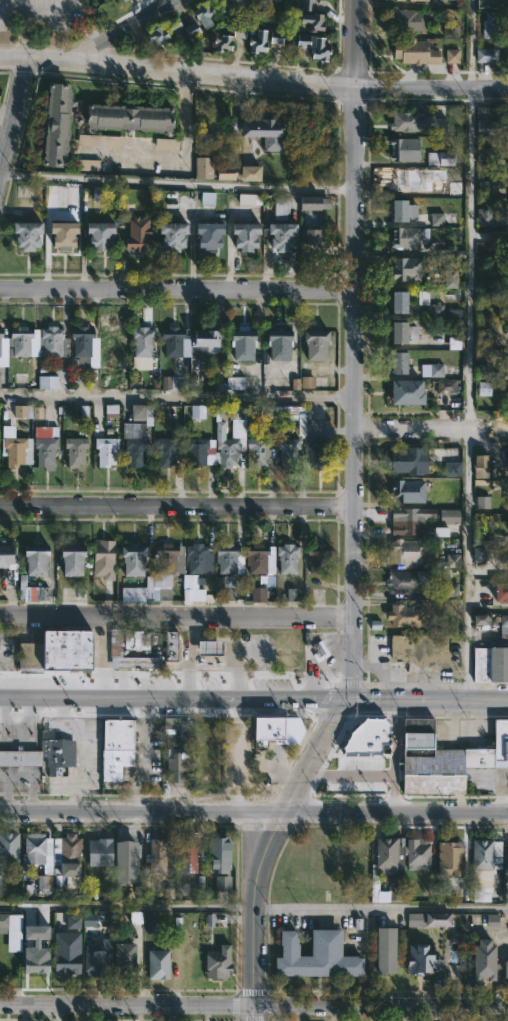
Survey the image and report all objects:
building: (121, 0)
building: (410, 0)
building: (265, 2)
building: (459, 3)
building: (227, 8)
road: (11, 15)
parking lot: (38, 15)
building: (308, 15)
road: (51, 16)
building: (196, 20)
building: (410, 20)
park: (40, 21)
building: (488, 24)
road: (129, 29)
building: (452, 29)
building: (161, 32)
road: (23, 35)
building: (276, 37)
building: (251, 38)
building: (222, 42)
road: (354, 42)
building: (312, 46)
building: (413, 51)
building: (486, 55)
building: (452, 56)
road: (253, 75)
road: (14, 116)
building: (124, 117)
building: (414, 120)
building: (54, 122)
building: (487, 127)
building: (259, 130)
building: (100, 140)
building: (506, 142)
building: (166, 143)
building: (418, 151)
road: (178, 155)
building: (484, 156)
building: (88, 165)
building: (203, 166)
building: (248, 172)
building: (507, 173)
building: (226, 176)
building: (400, 178)
road: (176, 182)
building: (484, 188)
building: (249, 198)
building: (315, 203)
building: (281, 209)
building: (400, 209)
building: (487, 217)
building: (437, 219)
building: (23, 233)
building: (137, 233)
building: (60, 234)
building: (94, 234)
building: (243, 234)
building: (279, 234)
building: (171, 235)
building: (206, 235)
building: (312, 236)
building: (404, 237)
building: (495, 240)
building: (456, 253)
building: (406, 269)
building: (450, 278)
road: (177, 289)
building: (398, 300)
building: (435, 311)
building: (401, 332)
building: (1, 333)
building: (19, 340)
building: (172, 340)
building: (109, 341)
building: (51, 342)
building: (205, 342)
building: (240, 342)
building: (275, 343)
building: (455, 343)
road: (468, 343)
building: (1, 344)
building: (313, 344)
building: (81, 345)
building: (141, 346)
building: (396, 362)
building: (432, 370)
building: (0, 377)
building: (47, 382)
building: (169, 382)
building: (303, 382)
building: (235, 383)
building: (446, 386)
building: (484, 388)
building: (404, 392)
road: (353, 394)
road: (176, 395)
building: (111, 410)
building: (27, 411)
building: (138, 411)
building: (198, 411)
building: (299, 414)
road: (430, 428)
building: (228, 442)
building: (287, 449)
building: (165, 450)
building: (196, 450)
building: (16, 451)
building: (74, 451)
building: (104, 451)
building: (133, 451)
building: (317, 451)
building: (44, 452)
building: (256, 452)
building: (405, 461)
building: (506, 465)
building: (481, 466)
building: (453, 469)
building: (405, 491)
building: (506, 497)
building: (482, 502)
road: (177, 505)
building: (449, 516)
building: (407, 520)
building: (411, 551)
building: (4, 556)
building: (194, 558)
building: (254, 558)
building: (285, 558)
building: (316, 558)
building: (67, 559)
building: (102, 559)
building: (228, 559)
building: (128, 561)
building: (164, 568)
building: (30, 573)
building: (402, 582)
building: (194, 586)
building: (224, 589)
building: (450, 589)
building: (253, 591)
building: (72, 593)
building: (499, 593)
building: (132, 594)
road: (175, 615)
building: (405, 617)
building: (480, 619)
building: (503, 628)
building: (134, 640)
building: (168, 646)
building: (420, 647)
building: (206, 650)
gas station: (206, 650)
building: (59, 652)
building: (112, 653)
road: (187, 659)
building: (490, 664)
road: (444, 686)
road: (139, 702)
road: (310, 702)
traffic signals: (341, 702)
road: (385, 702)
road: (469, 703)
road: (452, 715)
building: (177, 728)
building: (272, 730)
building: (366, 737)
building: (114, 747)
road: (80, 751)
building: (57, 754)
building: (18, 756)
road: (394, 757)
building: (444, 757)
road: (145, 759)
building: (175, 766)
road: (254, 813)
building: (8, 845)
building: (415, 850)
building: (96, 851)
building: (216, 852)
road: (265, 852)
building: (387, 853)
building: (154, 856)
building: (448, 857)
building: (38, 858)
building: (66, 859)
building: (123, 861)
building: (485, 862)
building: (187, 866)
building: (223, 882)
building: (395, 887)
building: (375, 889)
road: (253, 910)
building: (81, 915)
building: (427, 919)
building: (3, 922)
building: (73, 922)
building: (384, 950)
building: (67, 953)
building: (95, 958)
building: (121, 958)
building: (314, 958)
building: (420, 958)
building: (34, 959)
building: (483, 960)
building: (216, 961)
building: (156, 963)
building: (504, 969)
road: (254, 1006)

